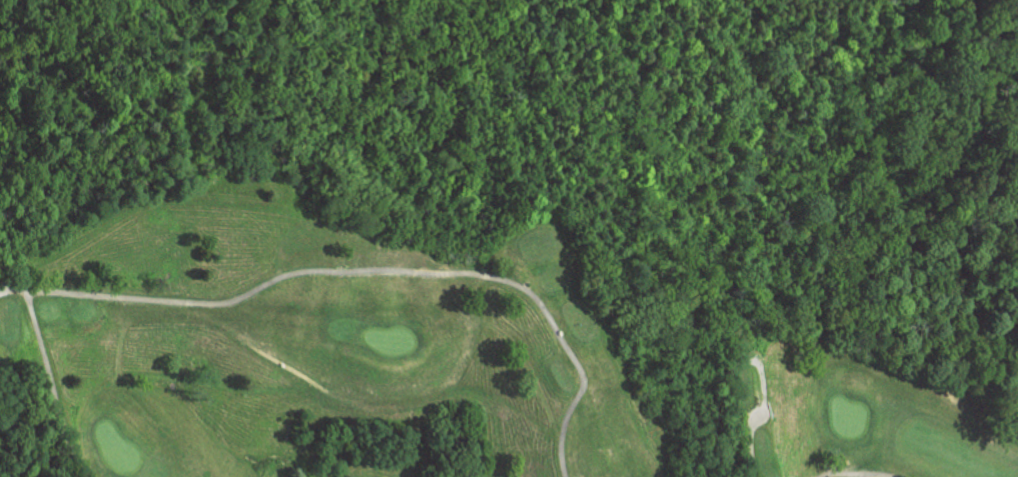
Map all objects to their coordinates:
road: (378, 273)
park: (432, 354)
road: (50, 374)
road: (750, 444)
road: (865, 476)

